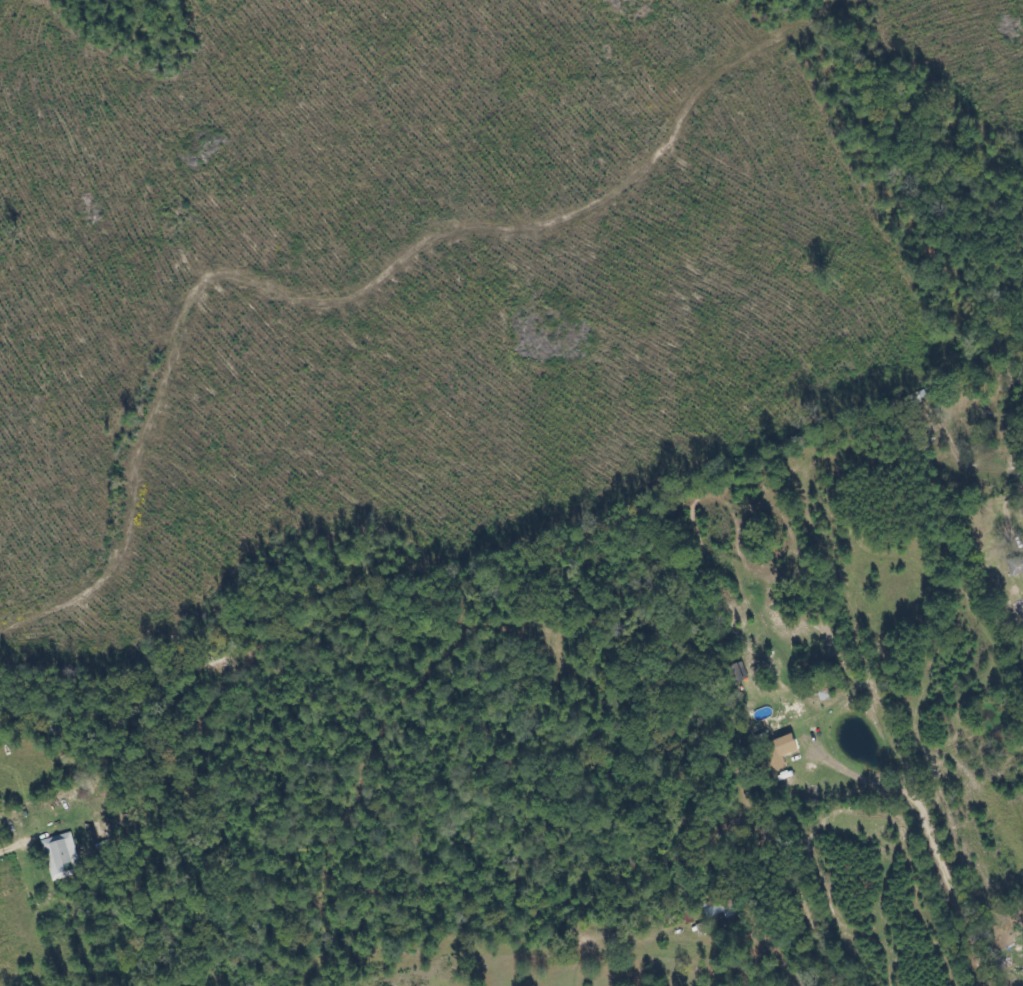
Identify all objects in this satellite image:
building: (1016, 566)
building: (739, 672)
building: (778, 752)
building: (63, 858)
building: (1022, 969)

